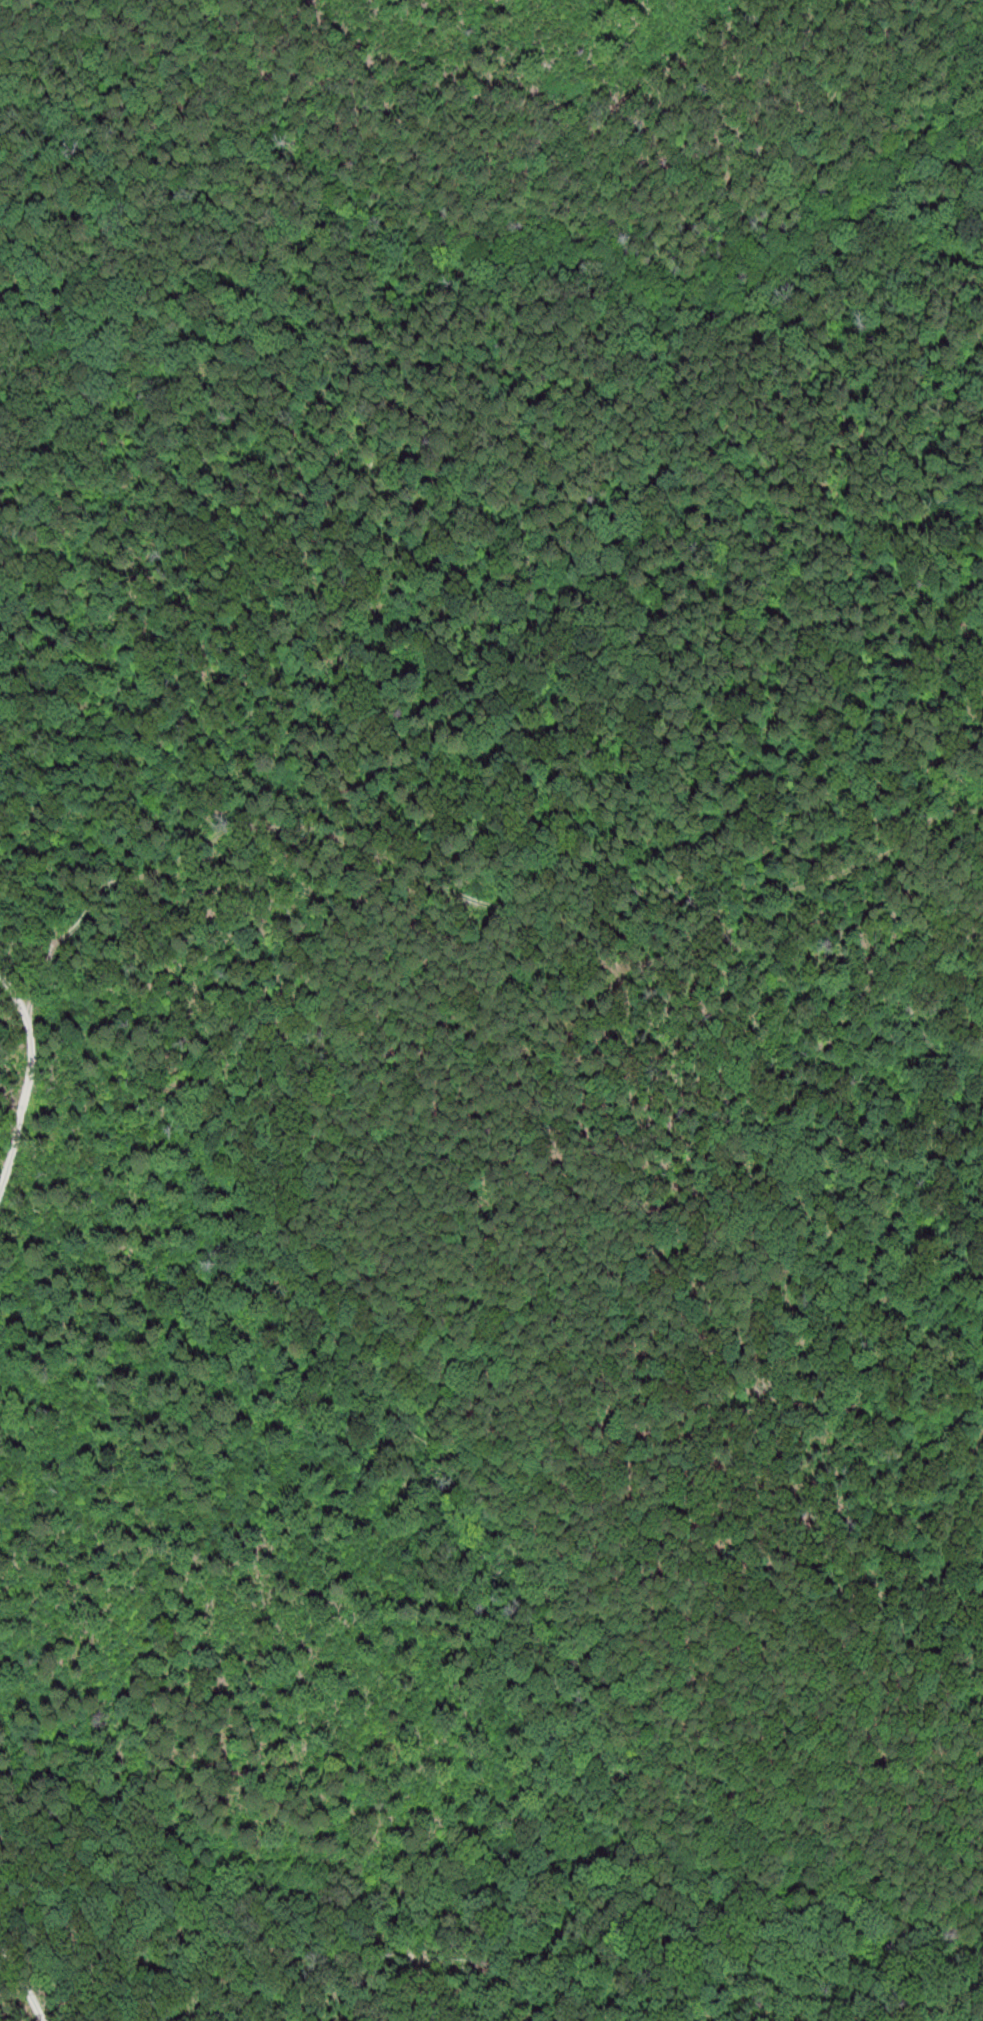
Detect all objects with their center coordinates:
road: (22, 1984)

